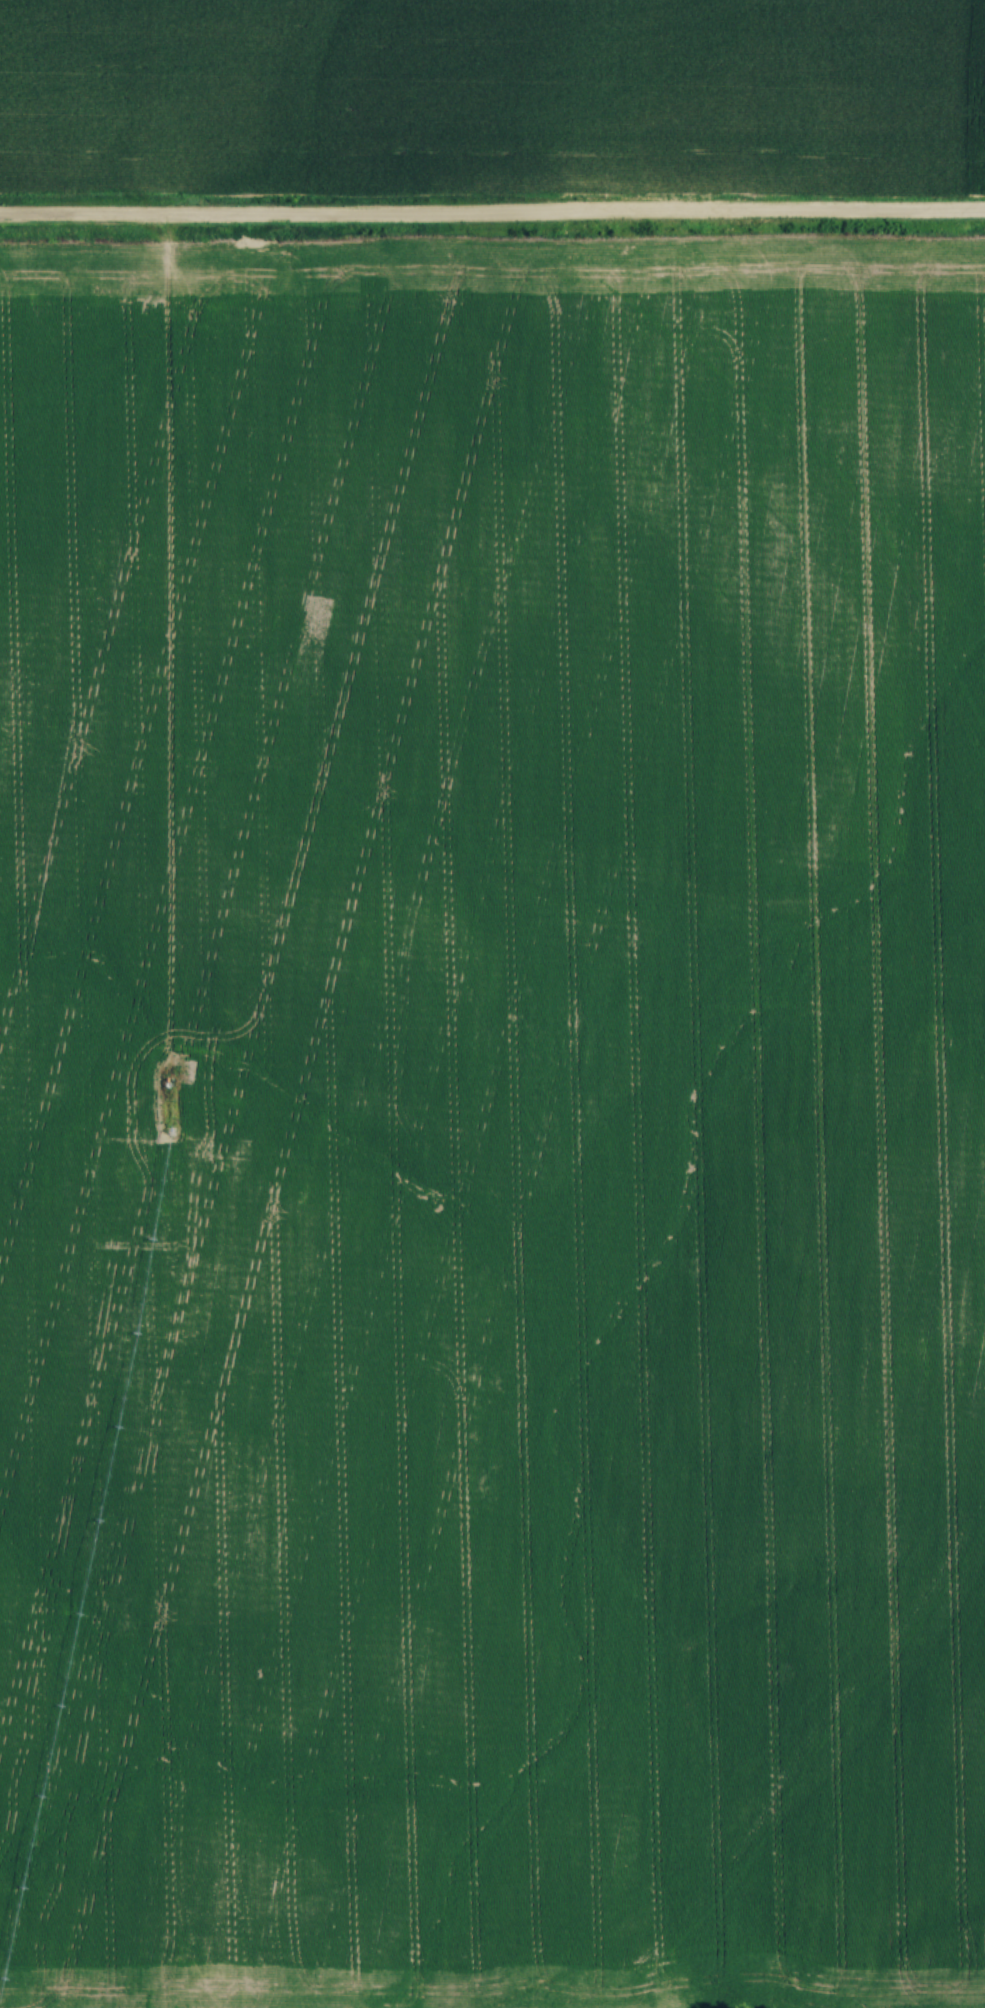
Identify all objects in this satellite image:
road: (492, 217)

